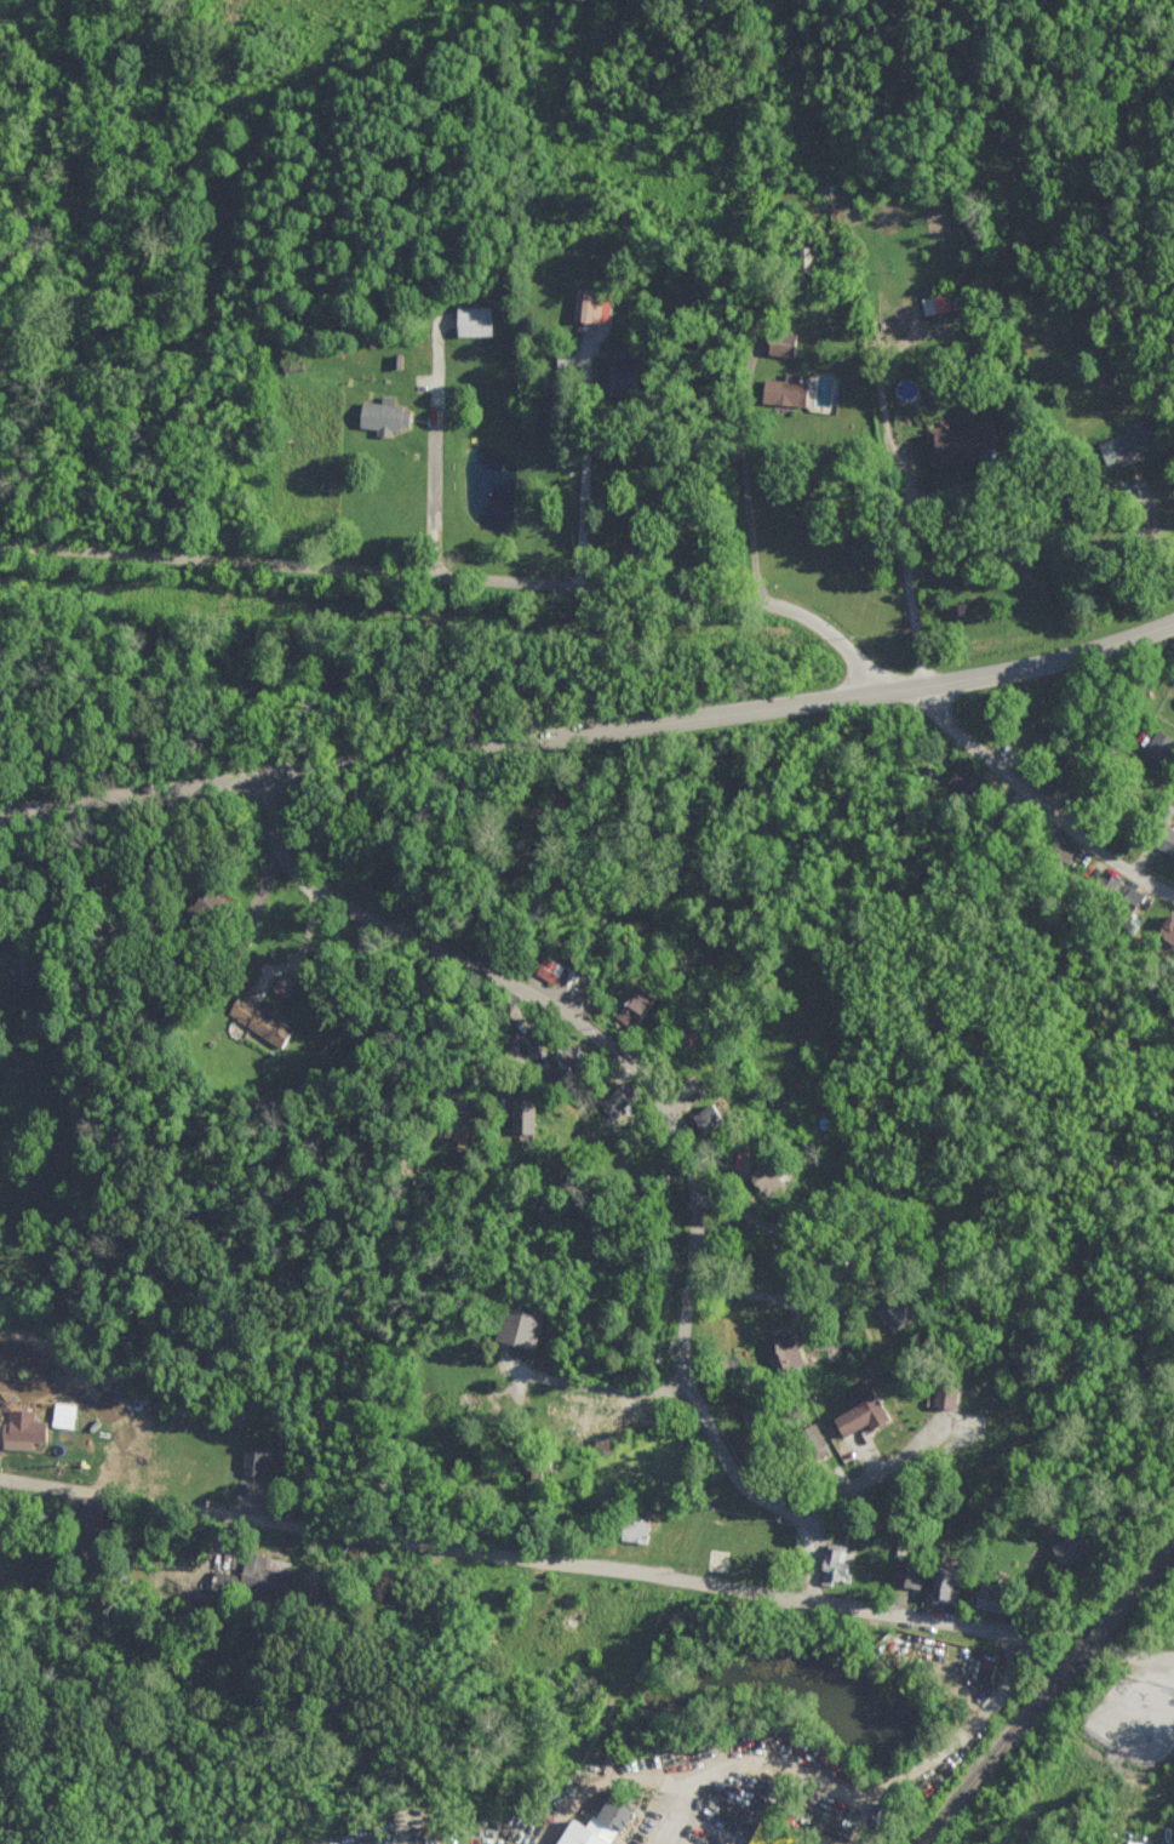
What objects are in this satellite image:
building: (801, 259)
building: (932, 304)
building: (588, 307)
building: (470, 321)
building: (777, 342)
building: (614, 371)
road: (1052, 388)
building: (780, 390)
building: (379, 416)
building: (956, 441)
building: (1123, 444)
road: (434, 452)
road: (743, 470)
road: (583, 490)
road: (901, 550)
road: (477, 578)
road: (1053, 668)
building: (1, 698)
building: (1156, 746)
road: (464, 748)
road: (1038, 805)
building: (1163, 840)
road: (28, 850)
building: (1055, 851)
building: (1117, 900)
building: (1164, 931)
building: (546, 969)
building: (279, 984)
building: (631, 1007)
building: (256, 1020)
building: (565, 1063)
building: (614, 1098)
road: (669, 1114)
building: (452, 1115)
building: (519, 1117)
building: (700, 1119)
building: (761, 1177)
road: (825, 1272)
building: (894, 1314)
building: (517, 1328)
building: (778, 1353)
road: (589, 1383)
building: (941, 1391)
building: (855, 1415)
building: (79, 1418)
building: (58, 1421)
building: (18, 1431)
building: (808, 1441)
building: (251, 1457)
road: (875, 1475)
building: (634, 1528)
road: (410, 1538)
building: (1065, 1548)
building: (831, 1564)
building: (262, 1574)
building: (904, 1575)
building: (221, 1581)
building: (938, 1586)
building: (981, 1598)
road: (950, 1623)
road: (1135, 1654)
railway: (1048, 1694)
road: (890, 1789)
road: (676, 1814)
building: (590, 1825)
road: (678, 1834)
building: (767, 1836)

